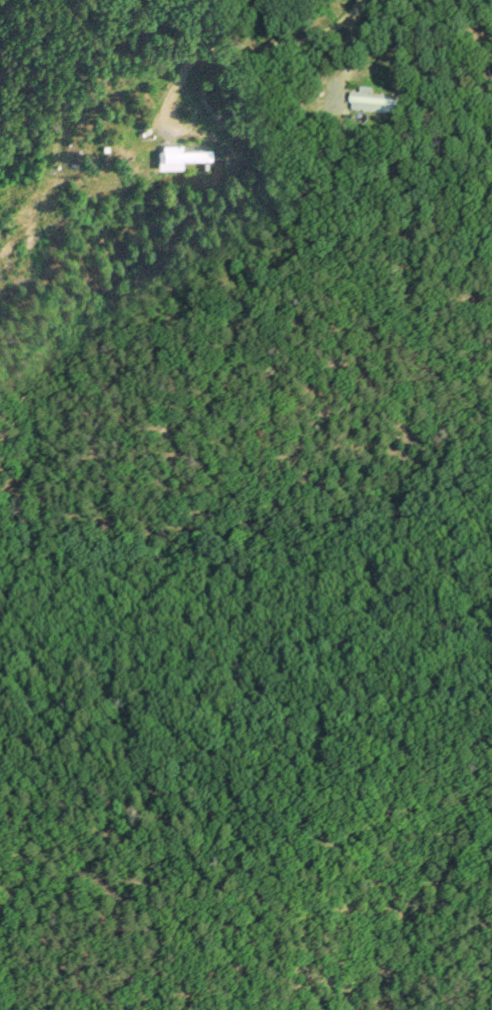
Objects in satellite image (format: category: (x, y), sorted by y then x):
building: (372, 102)
building: (180, 154)

